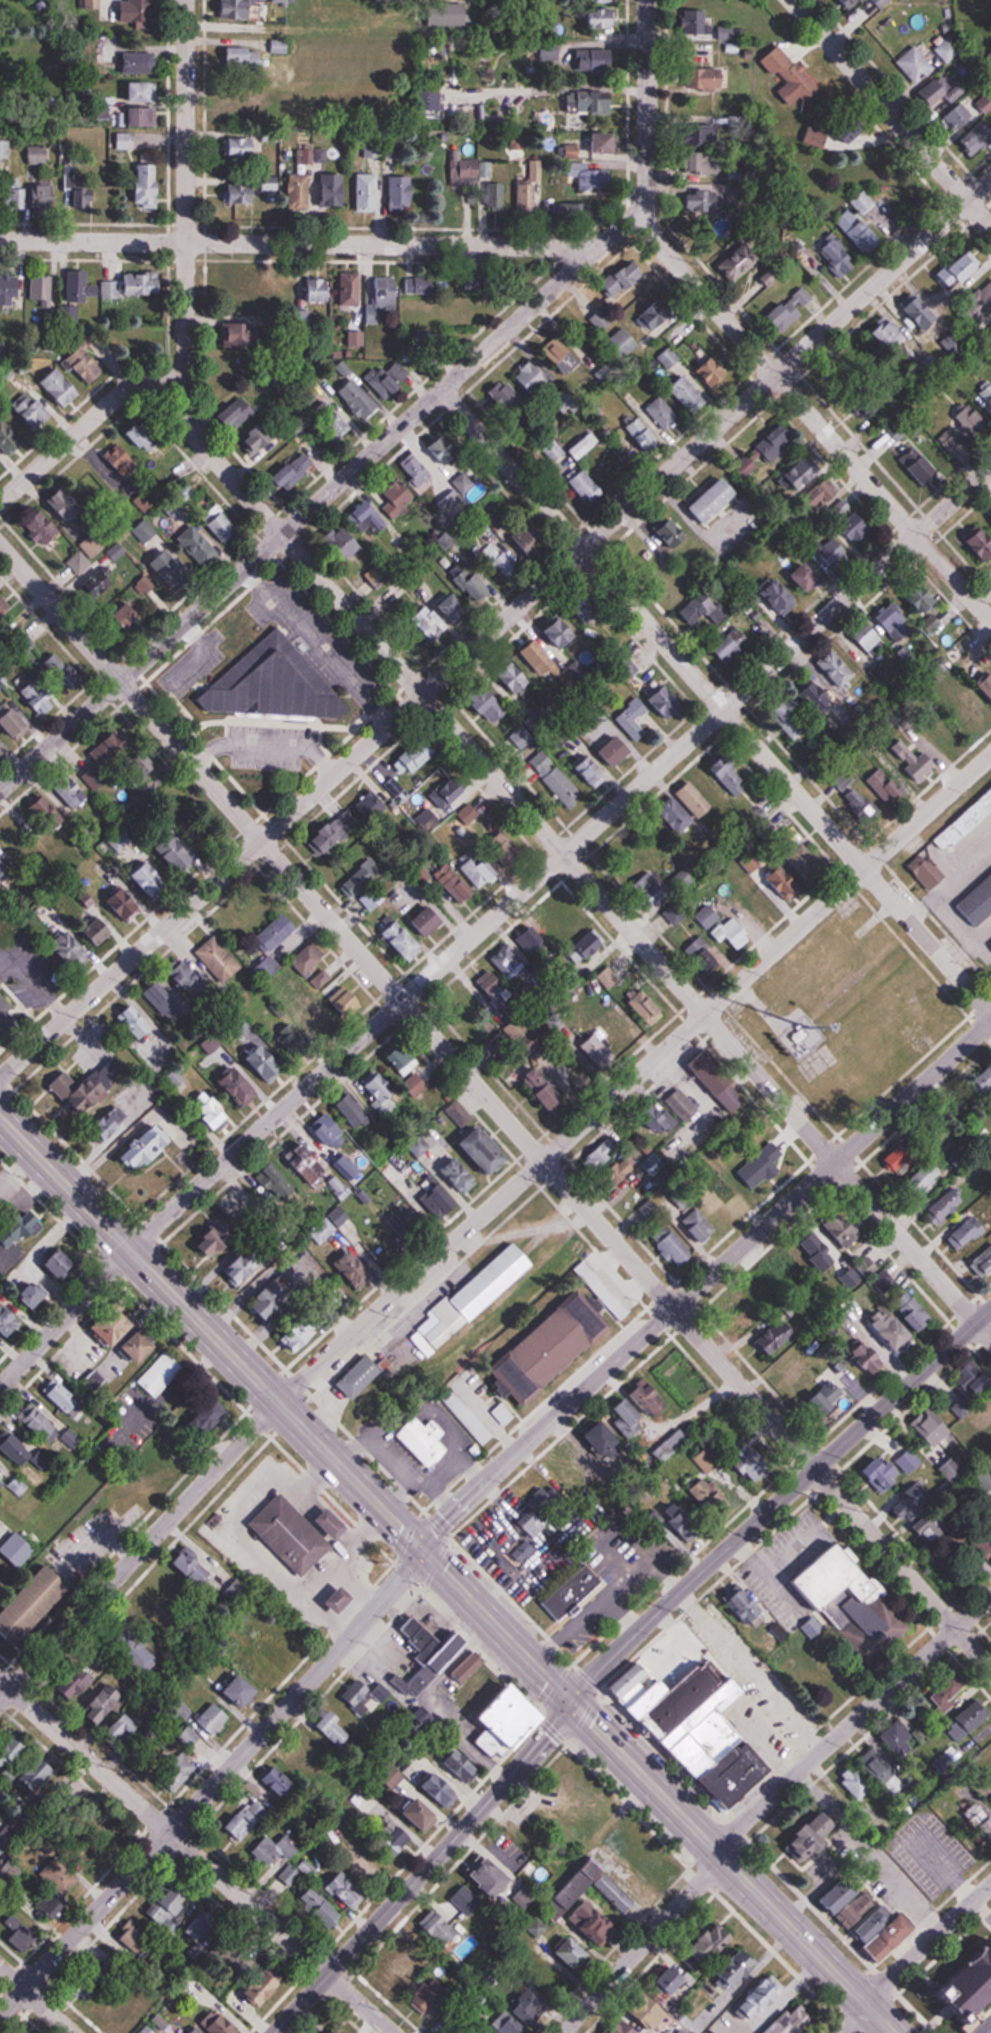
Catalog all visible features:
building: (603, 0)
building: (281, 1)
building: (852, 2)
building: (880, 3)
building: (241, 10)
building: (136, 11)
building: (601, 18)
building: (696, 22)
building: (726, 33)
building: (947, 50)
building: (245, 59)
building: (594, 61)
building: (140, 62)
building: (915, 64)
building: (799, 78)
building: (710, 79)
building: (938, 90)
building: (143, 92)
building: (271, 95)
building: (430, 98)
building: (596, 101)
building: (241, 107)
road: (892, 113)
building: (149, 117)
building: (832, 135)
building: (125, 141)
building: (605, 143)
building: (242, 145)
building: (5, 149)
building: (38, 154)
building: (703, 164)
building: (884, 170)
building: (469, 173)
building: (594, 180)
building: (80, 184)
building: (148, 186)
building: (368, 187)
building: (527, 187)
road: (186, 188)
building: (248, 190)
building: (335, 190)
building: (300, 192)
building: (402, 192)
building: (45, 195)
building: (499, 197)
building: (701, 199)
building: (863, 202)
building: (570, 211)
building: (857, 231)
road: (297, 244)
building: (837, 259)
building: (737, 262)
building: (476, 280)
building: (423, 284)
building: (241, 285)
building: (112, 286)
building: (9, 289)
building: (350, 289)
building: (315, 291)
building: (42, 292)
building: (985, 294)
building: (382, 296)
building: (444, 310)
building: (919, 312)
building: (658, 313)
building: (787, 313)
building: (602, 319)
building: (888, 334)
building: (238, 337)
building: (429, 340)
building: (622, 342)
building: (561, 355)
building: (668, 358)
building: (85, 366)
building: (712, 372)
building: (532, 377)
building: (387, 382)
building: (61, 387)
building: (688, 394)
building: (509, 399)
building: (359, 400)
building: (35, 412)
building: (237, 412)
building: (663, 415)
road: (812, 418)
road: (84, 425)
building: (902, 425)
road: (397, 428)
building: (144, 437)
building: (640, 437)
building: (263, 438)
building: (775, 440)
building: (6, 443)
building: (554, 452)
building: (122, 460)
building: (747, 467)
building: (418, 470)
building: (803, 473)
building: (291, 475)
building: (92, 478)
building: (463, 483)
building: (586, 486)
building: (821, 497)
building: (395, 498)
building: (714, 501)
building: (66, 505)
building: (841, 509)
building: (370, 518)
building: (855, 525)
building: (223, 528)
building: (145, 532)
building: (671, 532)
building: (46, 534)
building: (347, 542)
building: (531, 542)
building: (199, 545)
building: (832, 553)
building: (87, 554)
building: (652, 555)
building: (171, 570)
building: (499, 572)
building: (807, 577)
road: (249, 581)
building: (98, 584)
building: (778, 596)
building: (132, 603)
building: (702, 604)
building: (455, 609)
building: (906, 613)
building: (4, 615)
road: (212, 621)
building: (430, 625)
road: (338, 627)
road: (495, 629)
road: (191, 631)
building: (562, 633)
building: (871, 640)
parking lot: (321, 642)
building: (727, 647)
building: (544, 661)
parking lot: (195, 662)
building: (55, 663)
building: (836, 669)
building: (515, 679)
building: (276, 684)
building: (38, 696)
road: (716, 700)
building: (667, 703)
building: (801, 705)
road: (383, 707)
building: (489, 707)
building: (969, 714)
road: (194, 720)
building: (634, 720)
building: (13, 721)
road: (276, 723)
road: (199, 740)
parking lot: (270, 746)
building: (3, 749)
building: (618, 751)
road: (208, 752)
building: (913, 756)
road: (329, 764)
building: (590, 770)
road: (308, 771)
building: (555, 779)
building: (709, 787)
building: (990, 791)
building: (75, 796)
building: (431, 798)
building: (695, 801)
building: (372, 807)
building: (47, 814)
building: (676, 816)
building: (338, 832)
building: (505, 851)
road: (560, 857)
building: (180, 860)
road: (572, 865)
building: (478, 869)
building: (927, 873)
building: (683, 879)
building: (152, 882)
building: (455, 885)
building: (651, 890)
building: (976, 903)
building: (124, 908)
building: (254, 912)
building: (673, 915)
building: (708, 917)
building: (430, 923)
building: (99, 930)
building: (731, 932)
building: (277, 934)
building: (404, 942)
building: (565, 942)
building: (586, 947)
building: (74, 954)
building: (704, 958)
building: (219, 960)
building: (509, 963)
building: (312, 965)
building: (267, 970)
building: (189, 981)
building: (493, 990)
building: (163, 1000)
building: (345, 1001)
building: (647, 1008)
building: (7, 1021)
building: (139, 1022)
building: (315, 1024)
building: (510, 1036)
building: (294, 1042)
building: (600, 1052)
building: (405, 1060)
building: (266, 1063)
road: (634, 1078)
building: (720, 1081)
building: (101, 1087)
building: (239, 1087)
building: (543, 1087)
building: (379, 1092)
road: (497, 1106)
building: (210, 1110)
building: (354, 1110)
building: (674, 1112)
building: (460, 1114)
building: (331, 1132)
building: (148, 1148)
building: (485, 1151)
building: (626, 1166)
building: (348, 1168)
building: (396, 1173)
building: (461, 1175)
building: (753, 1177)
building: (925, 1177)
building: (339, 1187)
building: (685, 1199)
building: (722, 1204)
building: (946, 1206)
building: (426, 1214)
building: (329, 1224)
building: (700, 1225)
building: (20, 1229)
building: (847, 1230)
building: (970, 1230)
building: (217, 1238)
building: (674, 1248)
building: (816, 1254)
building: (986, 1259)
building: (65, 1265)
building: (245, 1266)
building: (795, 1266)
road: (703, 1283)
building: (35, 1295)
building: (473, 1298)
building: (272, 1299)
building: (755, 1301)
building: (614, 1302)
road: (65, 1318)
building: (9, 1319)
building: (904, 1323)
building: (116, 1325)
building: (303, 1333)
building: (142, 1345)
building: (552, 1348)
building: (870, 1359)
building: (794, 1370)
building: (161, 1374)
building: (360, 1376)
building: (681, 1376)
building: (96, 1380)
building: (476, 1382)
building: (652, 1398)
building: (828, 1400)
building: (957, 1404)
building: (465, 1413)
building: (504, 1414)
building: (212, 1415)
building: (629, 1418)
building: (42, 1424)
building: (931, 1428)
building: (602, 1437)
building: (424, 1442)
building: (17, 1450)
building: (708, 1461)
building: (753, 1464)
building: (953, 1472)
building: (886, 1476)
building: (2, 1480)
building: (18, 1486)
building: (712, 1499)
road: (779, 1505)
building: (544, 1507)
road: (832, 1514)
building: (920, 1515)
building: (335, 1523)
building: (688, 1523)
building: (292, 1534)
road: (754, 1546)
traffic signals: (420, 1548)
building: (18, 1549)
road: (139, 1552)
road: (743, 1553)
road: (865, 1557)
parking lot: (786, 1566)
building: (193, 1567)
road: (446, 1575)
building: (574, 1592)
building: (166, 1598)
building: (343, 1599)
building: (850, 1600)
building: (24, 1612)
building: (139, 1634)
road: (842, 1642)
building: (429, 1655)
building: (260, 1670)
road: (874, 1673)
road: (753, 1675)
building: (80, 1680)
building: (474, 1682)
building: (243, 1690)
building: (948, 1694)
building: (365, 1696)
building: (675, 1698)
building: (105, 1704)
building: (214, 1718)
building: (968, 1721)
building: (512, 1723)
road: (854, 1725)
building: (333, 1726)
building: (126, 1727)
building: (900, 1740)
building: (311, 1760)
building: (464, 1762)
building: (880, 1768)
building: (180, 1771)
building: (38, 1772)
building: (277, 1781)
building: (856, 1783)
road: (214, 1784)
building: (442, 1788)
building: (419, 1810)
building: (977, 1814)
building: (246, 1816)
building: (12, 1830)
building: (395, 1834)
building: (117, 1837)
building: (813, 1841)
building: (281, 1845)
road: (195, 1857)
building: (368, 1868)
road: (423, 1869)
building: (490, 1874)
building: (60, 1875)
building: (346, 1889)
building: (573, 1891)
building: (846, 1898)
building: (171, 1904)
building: (322, 1909)
building: (51, 1910)
building: (595, 1923)
building: (195, 1927)
building: (448, 1932)
building: (23, 1935)
building: (893, 1937)
building: (132, 1942)
road: (637, 1942)
building: (713, 1945)
road: (928, 1945)
building: (575, 1954)
building: (410, 1969)
building: (739, 1969)
building: (678, 1982)
building: (269, 1987)
building: (433, 1991)
road: (36, 2000)
building: (969, 2006)
building: (122, 2009)
building: (655, 2011)
road: (853, 2018)
building: (219, 2023)
building: (510, 2024)
building: (630, 2029)
building: (197, 2030)
building: (148, 2031)

